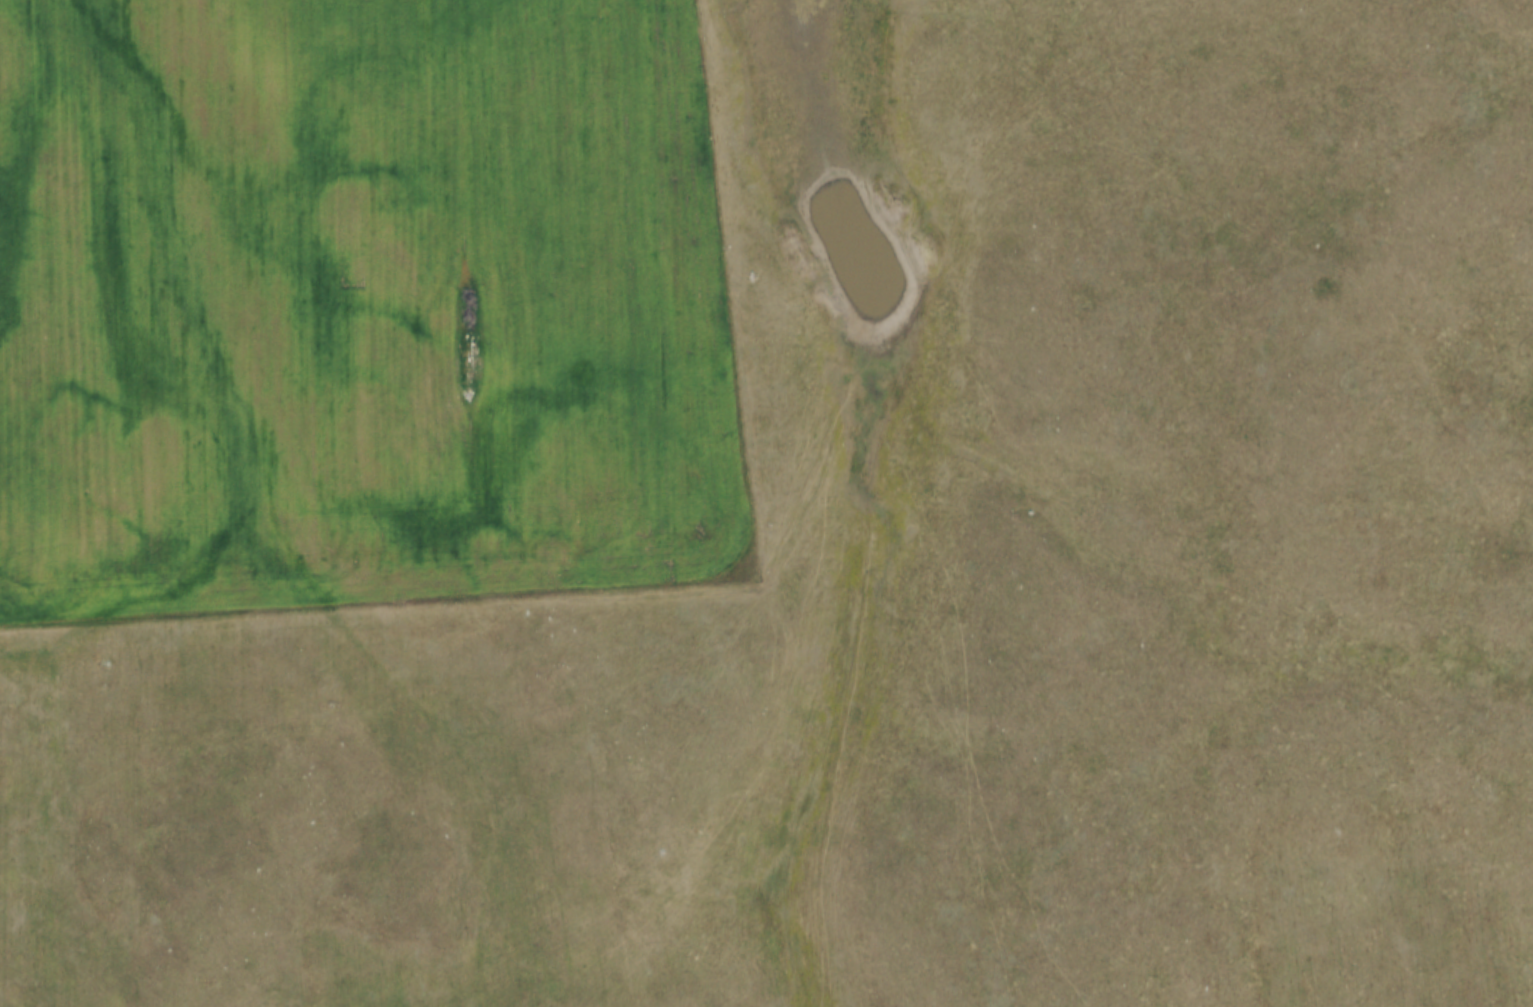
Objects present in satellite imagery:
road: (904, 74)

